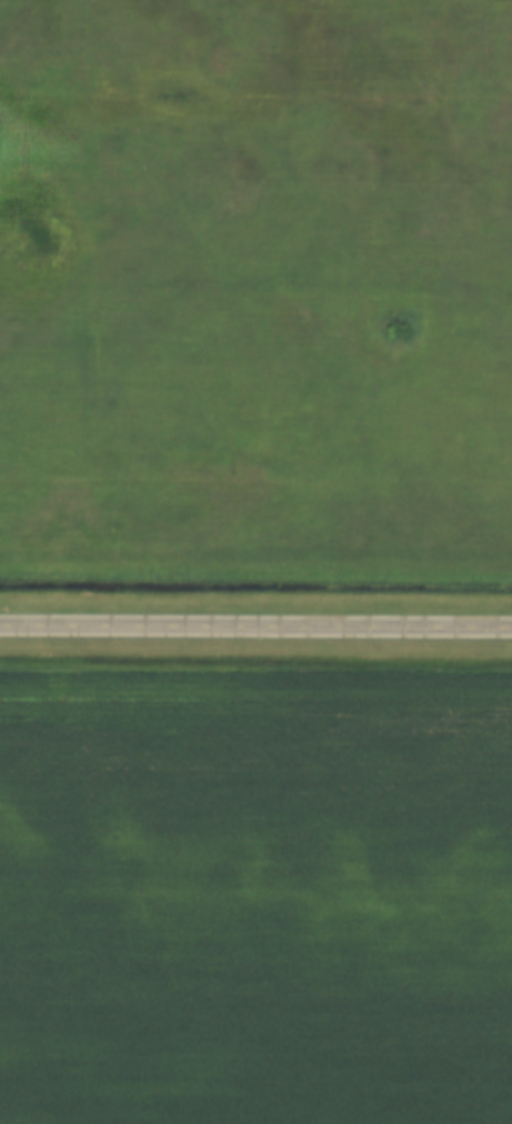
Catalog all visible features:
road: (255, 625)

